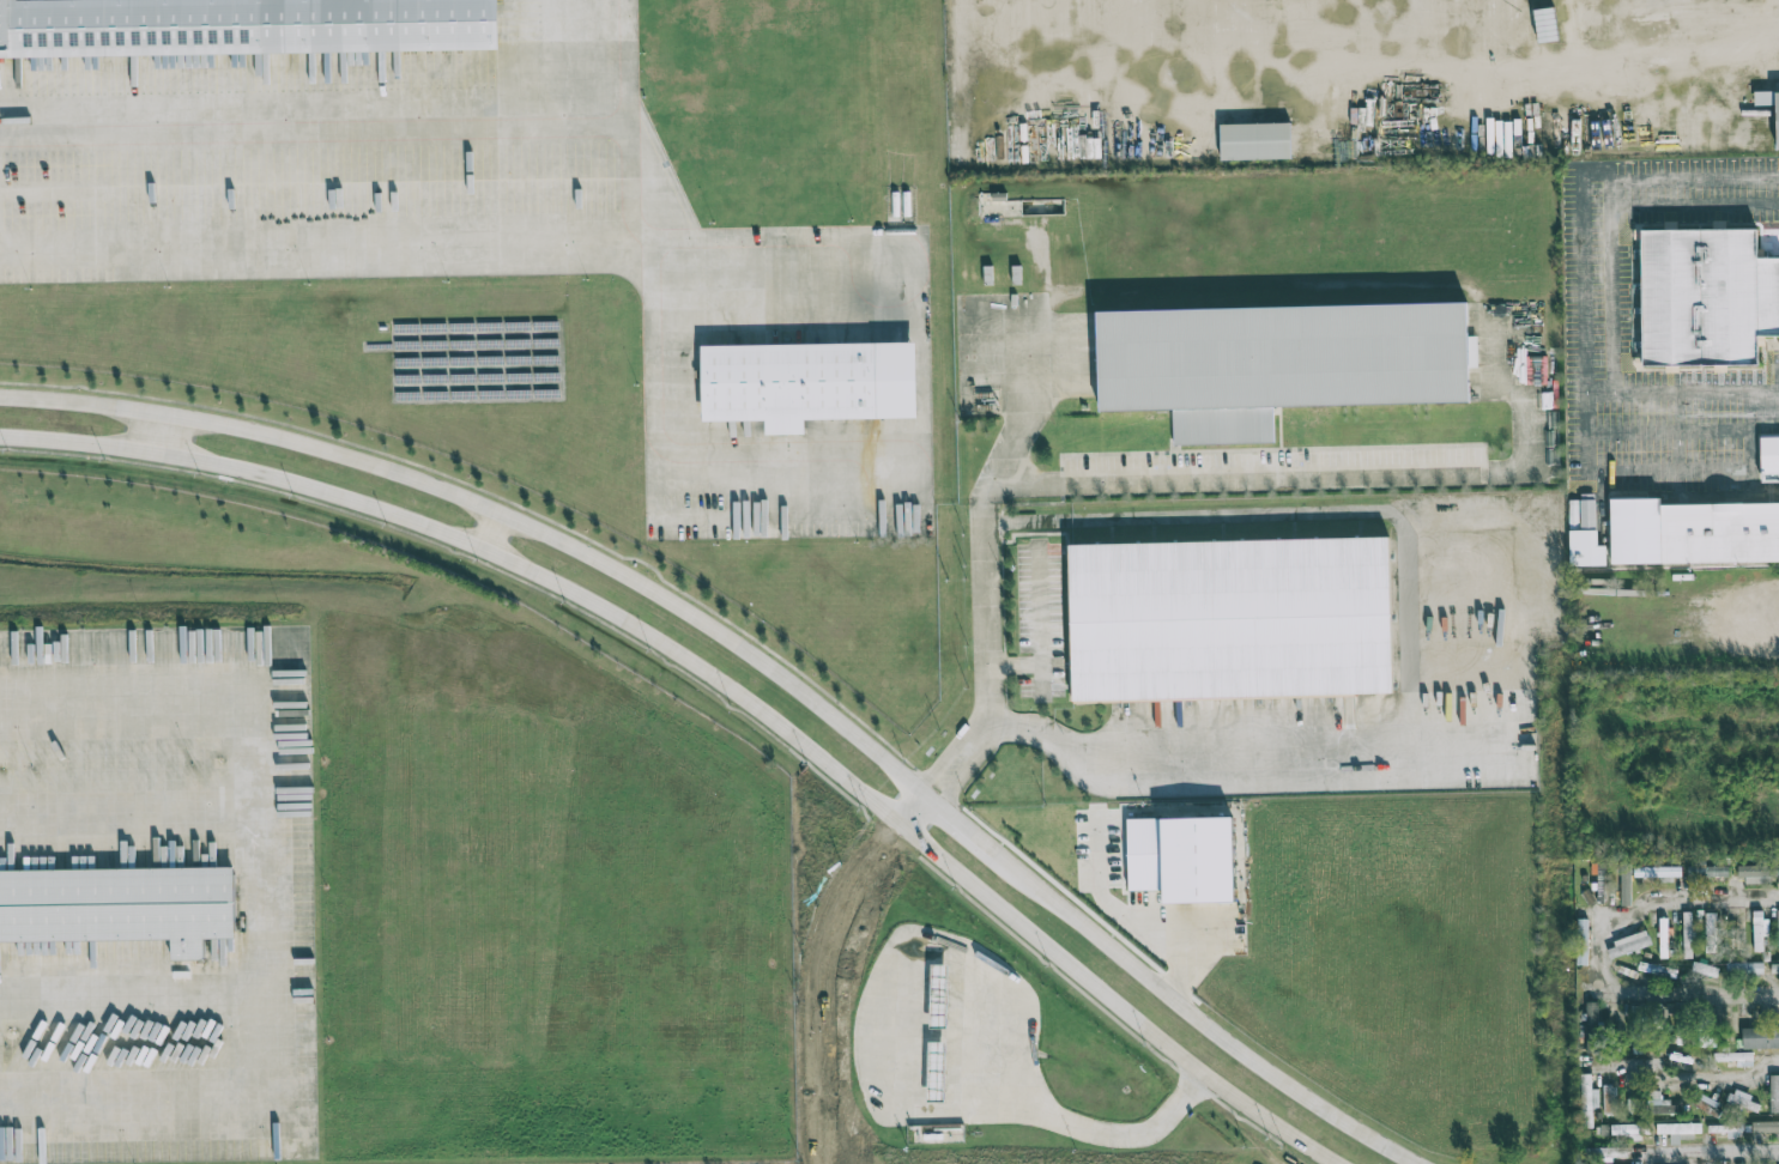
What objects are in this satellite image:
building: (241, 26)
road: (628, 62)
road: (1373, 75)
road: (486, 125)
building: (1777, 127)
building: (1255, 141)
road: (1584, 184)
road: (320, 241)
road: (1612, 281)
building: (1706, 297)
building: (1279, 362)
building: (809, 383)
road: (1762, 396)
road: (1666, 430)
road: (1677, 431)
road: (161, 432)
building: (1768, 459)
road: (1669, 472)
road: (1326, 477)
road: (812, 478)
road: (1376, 509)
road: (1036, 521)
road: (1759, 522)
road: (494, 532)
building: (1693, 532)
building: (1584, 533)
road: (981, 550)
building: (1230, 619)
road: (1741, 638)
building: (0, 650)
road: (768, 666)
road: (725, 685)
road: (795, 711)
road: (1168, 758)
road: (915, 808)
road: (125, 820)
building: (1182, 857)
building: (1707, 871)
building: (1657, 872)
building: (1757, 873)
building: (1778, 883)
road: (248, 893)
building: (120, 907)
building: (1778, 916)
road: (1130, 920)
building: (1735, 929)
building: (1759, 929)
building: (1711, 932)
building: (1688, 935)
building: (1663, 938)
building: (1581, 941)
building: (1628, 945)
road: (1601, 951)
building: (1744, 968)
building: (1774, 968)
building: (1657, 970)
road: (818, 981)
building: (938, 992)
road: (123, 993)
road: (1777, 994)
building: (1592, 1027)
building: (1760, 1037)
building: (1735, 1057)
road: (1687, 1080)
building: (1774, 1093)
building: (1743, 1099)
building: (1587, 1101)
building: (1660, 1104)
building: (1765, 1126)
building: (1678, 1128)
building: (1726, 1129)
building: (1630, 1130)
road: (1107, 1132)
road: (1711, 1153)

